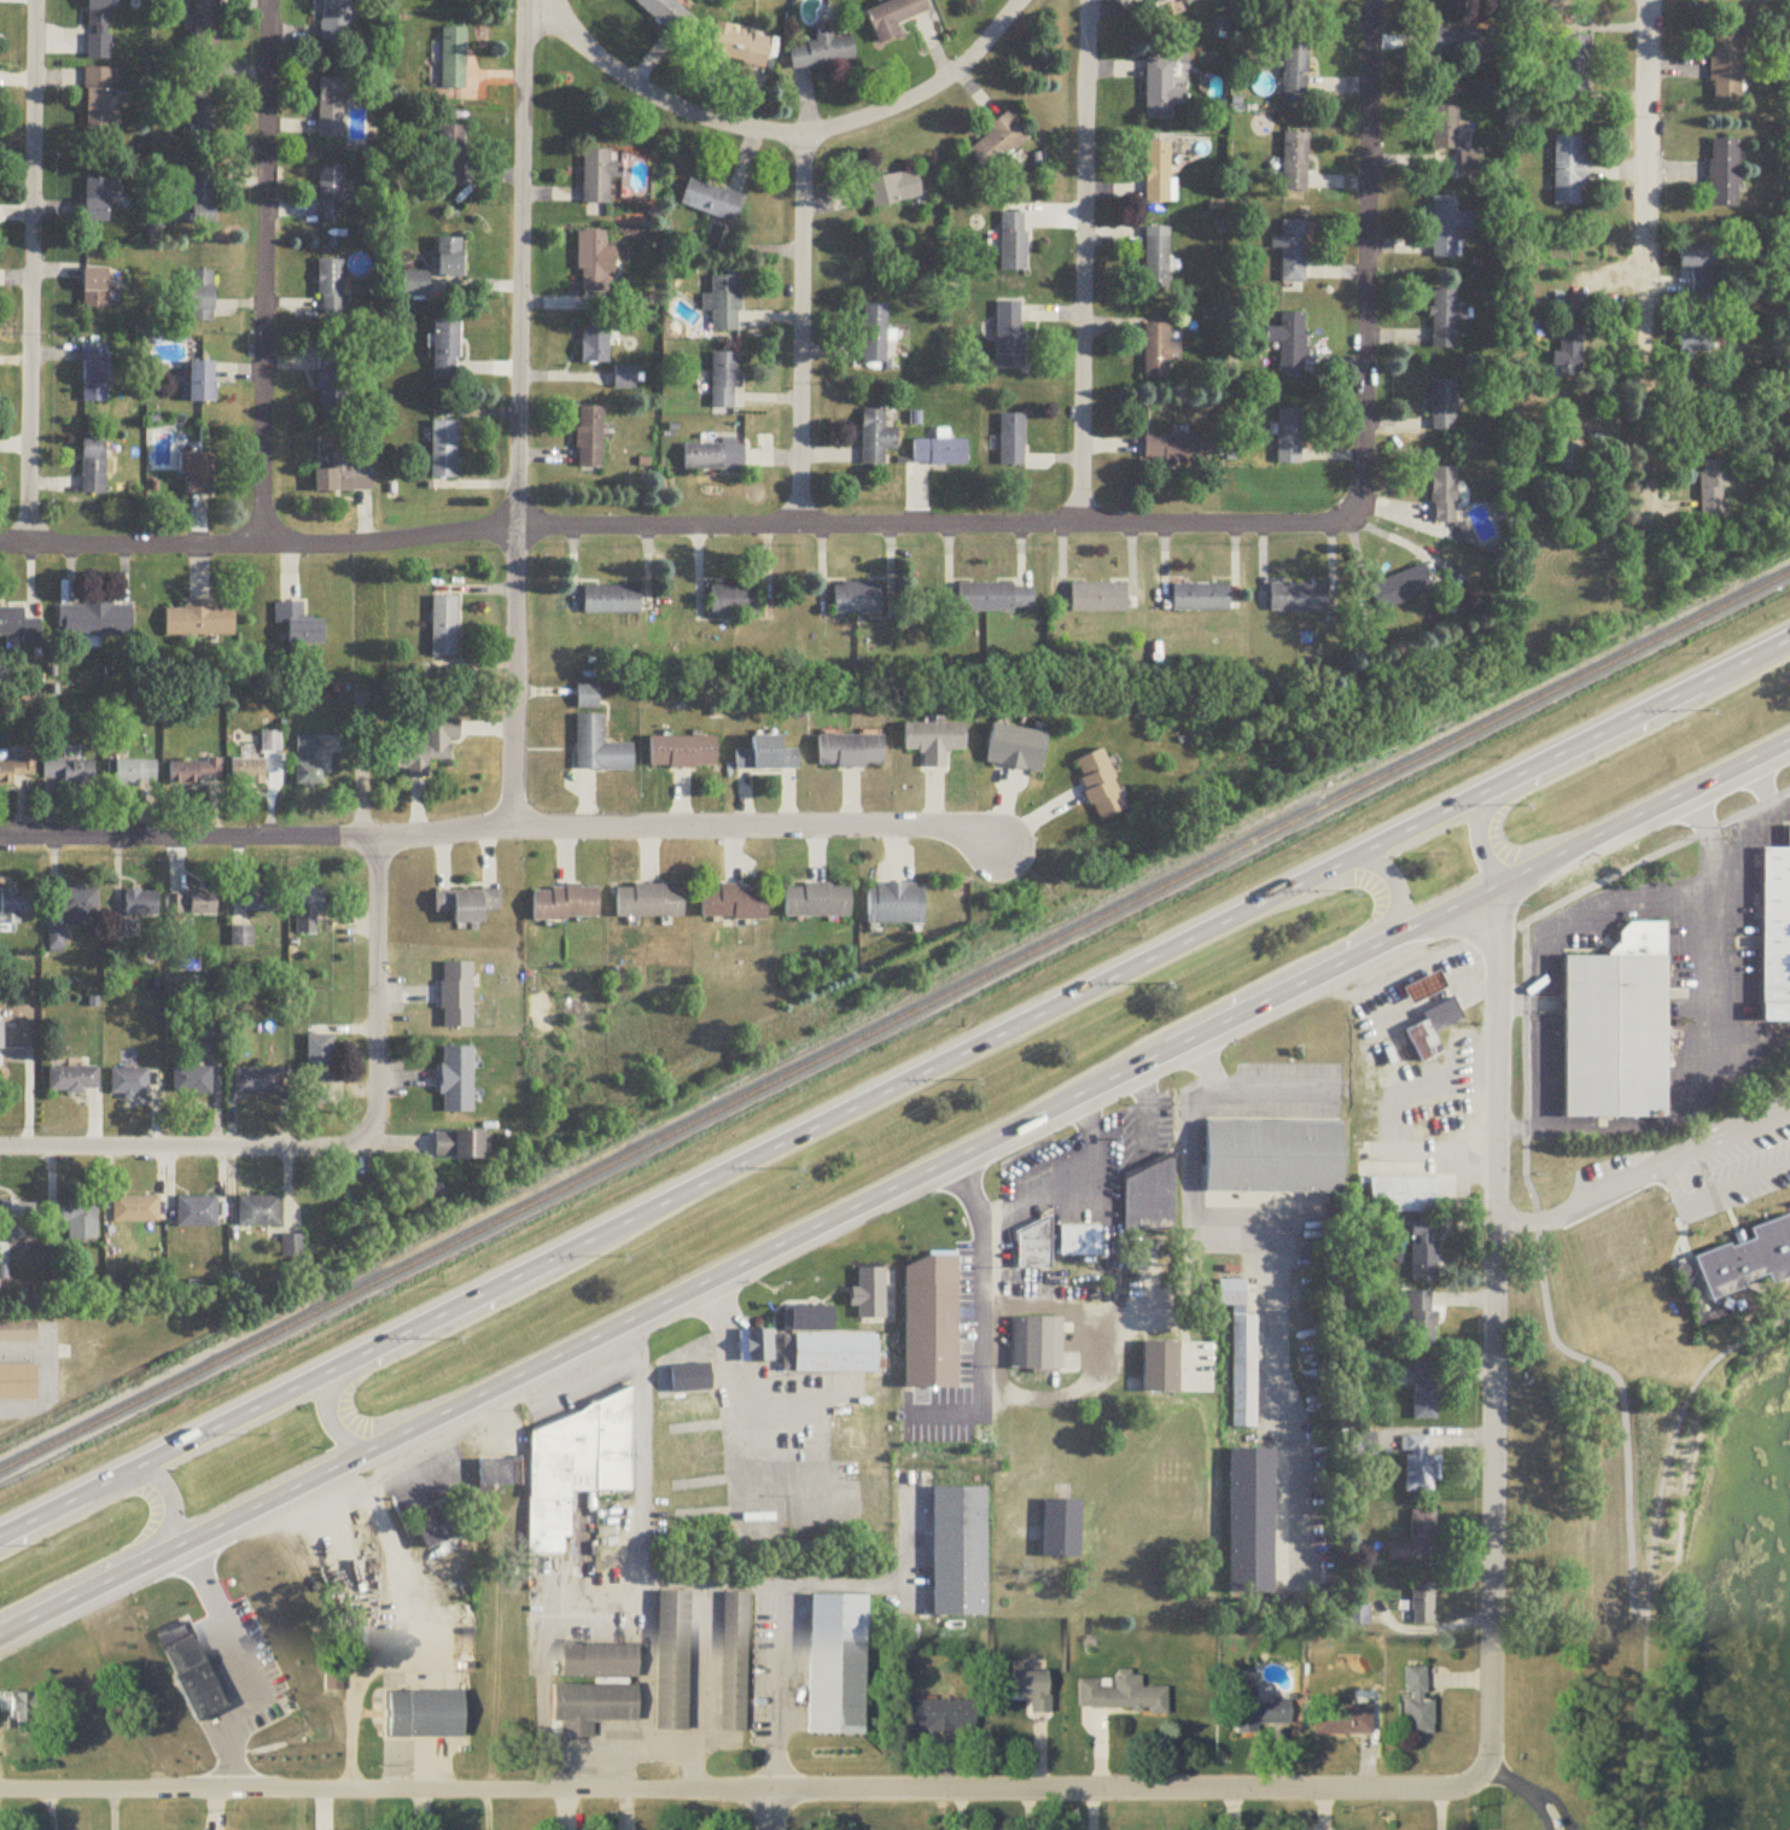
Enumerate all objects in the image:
building: (1160, 1)
building: (1294, 2)
building: (667, 16)
building: (893, 18)
building: (336, 21)
building: (206, 28)
building: (99, 30)
building: (1464, 42)
building: (740, 47)
building: (821, 54)
building: (454, 60)
building: (1296, 66)
building: (1575, 66)
building: (1726, 72)
building: (1161, 92)
building: (98, 101)
building: (331, 110)
building: (205, 120)
building: (1445, 129)
road: (783, 133)
building: (996, 145)
building: (451, 158)
building: (1295, 163)
building: (1470, 163)
building: (1569, 173)
building: (1158, 174)
building: (1724, 175)
building: (597, 179)
building: (894, 191)
building: (332, 196)
building: (204, 198)
building: (97, 203)
building: (711, 203)
building: (1447, 228)
building: (1013, 243)
road: (1644, 250)
building: (1293, 252)
road: (1366, 258)
building: (1158, 260)
building: (1697, 260)
building: (450, 261)
road: (1083, 261)
building: (591, 264)
road: (267, 270)
road: (30, 273)
building: (331, 290)
building: (94, 291)
building: (202, 299)
building: (723, 305)
building: (1445, 320)
road: (800, 330)
building: (875, 336)
building: (1010, 336)
building: (1693, 342)
building: (1289, 345)
building: (595, 348)
building: (1570, 349)
building: (447, 351)
building: (1159, 352)
building: (94, 375)
building: (625, 379)
building: (724, 383)
building: (332, 385)
building: (200, 386)
building: (1444, 407)
road: (518, 410)
building: (1289, 438)
building: (590, 439)
building: (876, 439)
building: (1011, 442)
building: (1171, 450)
building: (443, 451)
building: (940, 454)
building: (713, 456)
building: (1567, 460)
building: (94, 470)
building: (198, 473)
building: (345, 476)
building: (1713, 491)
building: (1444, 497)
road: (674, 526)
building: (1401, 589)
building: (996, 598)
building: (1200, 598)
building: (1298, 598)
building: (857, 599)
building: (1098, 599)
building: (612, 600)
building: (734, 601)
building: (199, 620)
building: (97, 622)
building: (18, 625)
building: (299, 625)
building: (444, 626)
building: (588, 698)
building: (934, 741)
building: (599, 747)
building: (424, 748)
building: (1016, 748)
road: (1605, 748)
building: (851, 751)
building: (682, 753)
building: (766, 756)
building: (308, 763)
road: (361, 763)
building: (18, 768)
building: (68, 771)
building: (194, 771)
building: (247, 771)
building: (135, 774)
building: (1100, 786)
road: (520, 822)
road: (1743, 833)
building: (263, 901)
building: (817, 901)
building: (565, 902)
building: (649, 902)
building: (734, 902)
road: (1398, 902)
building: (141, 903)
building: (193, 903)
building: (896, 904)
building: (467, 905)
building: (80, 907)
building: (14, 910)
road: (1597, 910)
building: (309, 911)
building: (1773, 922)
building: (243, 937)
road: (1355, 969)
road: (1715, 969)
parking lot: (1712, 978)
building: (1424, 989)
road: (375, 990)
building: (456, 996)
railway: (894, 1022)
building: (1614, 1022)
building: (1429, 1028)
building: (209, 1035)
building: (1, 1036)
building: (320, 1060)
building: (74, 1082)
building: (456, 1082)
road: (1545, 1082)
building: (192, 1083)
building: (258, 1083)
building: (129, 1084)
road: (893, 1086)
road: (1269, 1089)
parking lot: (1435, 1111)
road: (1387, 1119)
road: (1600, 1120)
building: (459, 1146)
road: (181, 1147)
road: (1686, 1154)
parking lot: (1706, 1158)
building: (1273, 1159)
road: (1677, 1182)
road: (1737, 1182)
road: (896, 1188)
building: (1400, 1194)
road: (1010, 1196)
building: (1149, 1199)
road: (1731, 1208)
building: (135, 1211)
building: (258, 1212)
building: (198, 1213)
road: (1543, 1214)
building: (17, 1219)
building: (81, 1219)
road: (1462, 1224)
building: (1079, 1242)
building: (1617, 1242)
building: (1033, 1248)
building: (1747, 1249)
building: (1419, 1253)
building: (4, 1254)
road: (1269, 1269)
road: (1696, 1287)
road: (1463, 1300)
building: (864, 1309)
building: (1418, 1317)
building: (809, 1319)
road: (981, 1321)
building: (17, 1324)
road: (1495, 1325)
building: (1037, 1345)
building: (759, 1346)
building: (830, 1354)
road: (1096, 1356)
building: (1242, 1356)
building: (1161, 1368)
road: (1467, 1369)
building: (17, 1376)
road: (51, 1379)
building: (687, 1380)
building: (1422, 1389)
road: (333, 1395)
building: (704, 1428)
building: (852, 1430)
road: (1432, 1432)
road: (742, 1433)
building: (1364, 1443)
building: (1415, 1462)
building: (576, 1468)
building: (496, 1474)
park: (1645, 1478)
road: (173, 1521)
building: (1250, 1522)
building: (1061, 1529)
building: (436, 1533)
building: (1413, 1535)
road: (1652, 1543)
building: (960, 1552)
road: (1467, 1554)
road: (744, 1584)
building: (1418, 1601)
road: (645, 1604)
building: (1353, 1614)
road: (410, 1630)
road: (1429, 1631)
building: (602, 1660)
building: (674, 1661)
building: (736, 1662)
road: (233, 1665)
building: (839, 1665)
building: (192, 1669)
building: (334, 1678)
building: (1036, 1688)
building: (1123, 1694)
building: (1418, 1702)
road: (150, 1704)
building: (594, 1706)
building: (1263, 1709)
building: (23, 1712)
building: (427, 1712)
road: (647, 1714)
building: (944, 1714)
building: (1346, 1719)
road: (671, 1750)
road: (168, 1764)
road: (746, 1789)
road: (1529, 1790)
road: (772, 1809)

